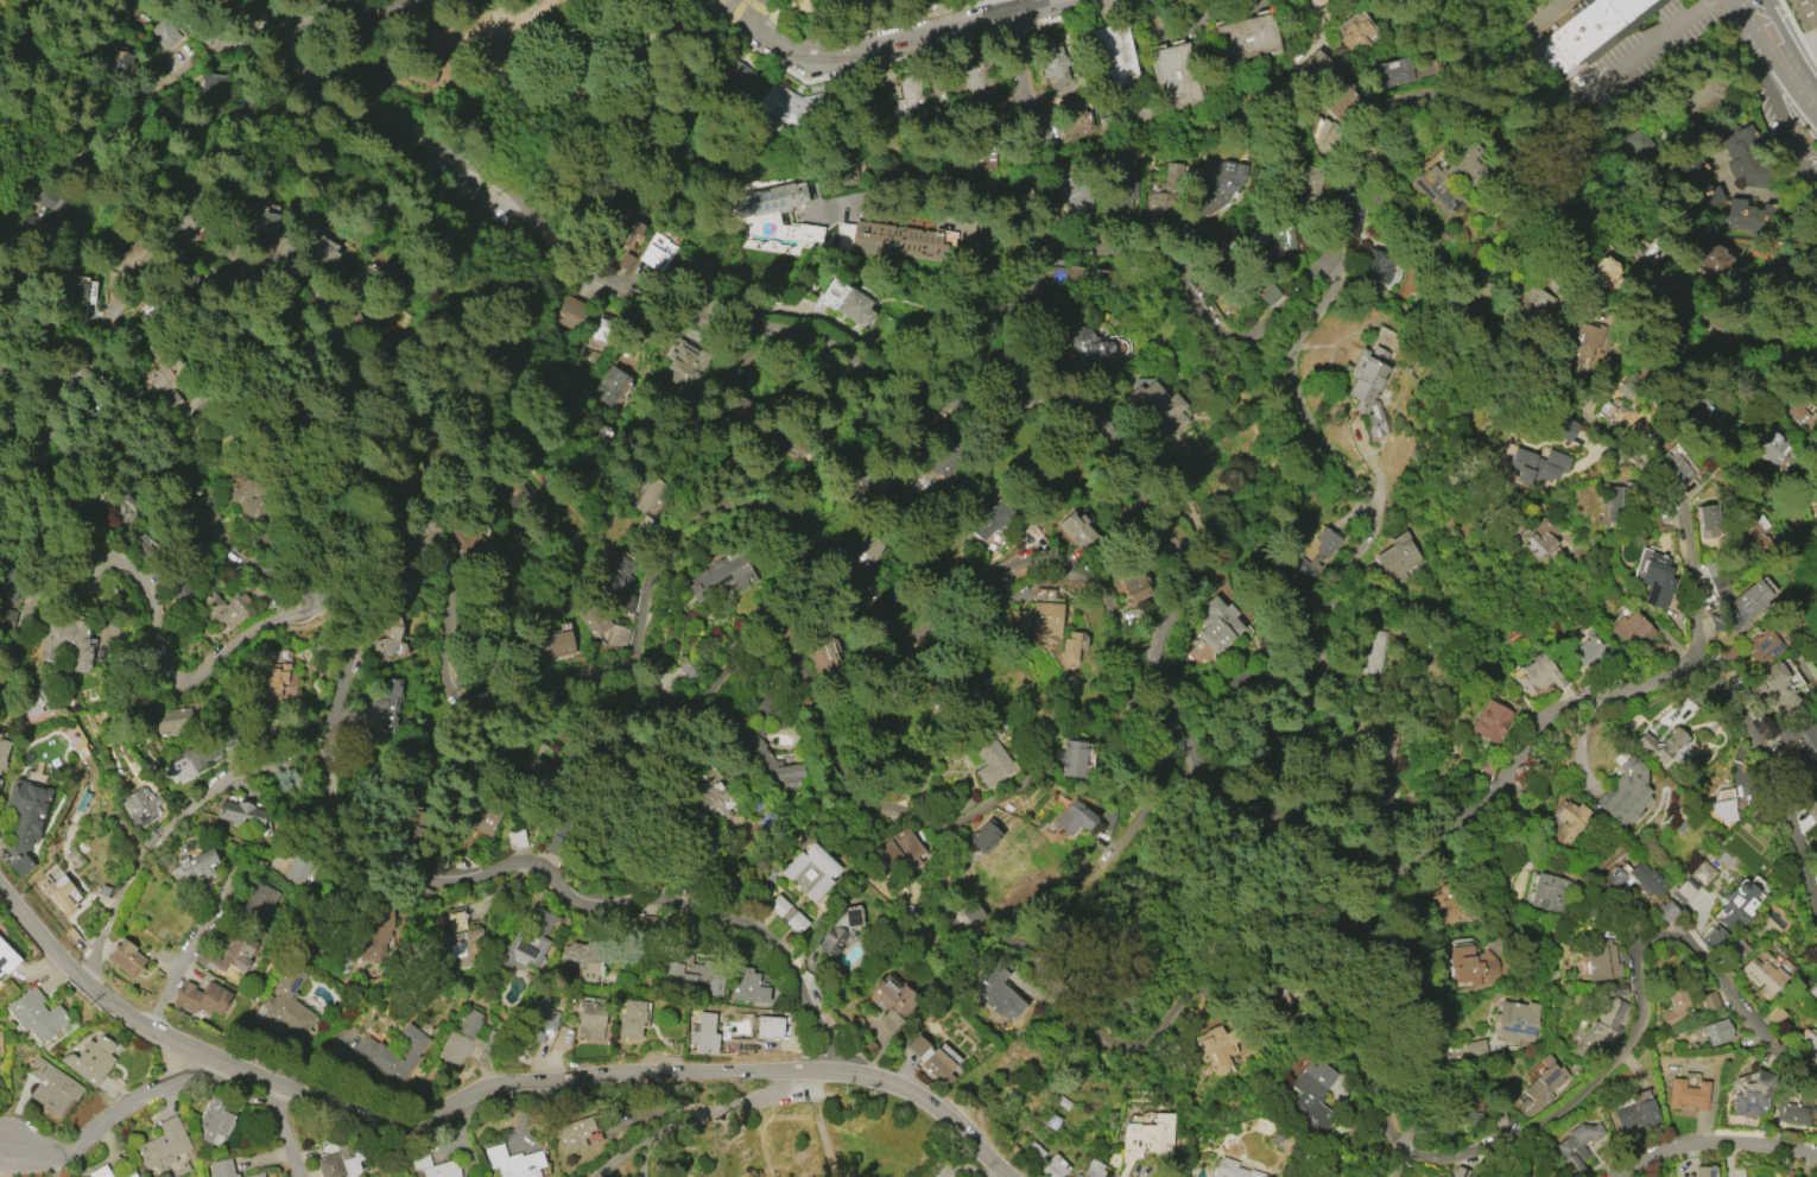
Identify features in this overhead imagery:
road: (1766, 2)
building: (1435, 4)
road: (771, 6)
road: (330, 8)
road: (761, 11)
parking lot: (1508, 12)
building: (1803, 12)
road: (400, 13)
road: (741, 14)
road: (1323, 24)
road: (319, 25)
road: (878, 25)
building: (1591, 26)
road: (1796, 30)
building: (1357, 31)
road: (1536, 32)
building: (163, 33)
road: (291, 34)
building: (1247, 37)
road: (888, 38)
road: (1792, 40)
road: (1635, 46)
building: (1107, 53)
road: (907, 55)
road: (1769, 59)
building: (1053, 64)
building: (1553, 64)
building: (118, 67)
building: (1312, 68)
building: (977, 75)
building: (1394, 75)
road: (1539, 75)
building: (1173, 76)
road: (160, 78)
building: (737, 82)
park: (509, 83)
building: (214, 86)
building: (910, 95)
road: (1761, 101)
building: (1343, 102)
road: (378, 109)
building: (796, 109)
building: (1072, 116)
parking lot: (1785, 116)
road: (1037, 120)
building: (1327, 134)
building: (1635, 143)
building: (1745, 156)
building: (982, 160)
road: (1520, 164)
building: (1449, 176)
building: (1310, 182)
building: (1702, 184)
building: (1217, 188)
building: (1121, 192)
building: (43, 194)
building: (1075, 198)
building: (1161, 204)
road: (938, 213)
building: (1750, 216)
building: (774, 220)
building: (183, 228)
building: (262, 230)
building: (626, 232)
building: (843, 236)
building: (881, 238)
building: (1277, 238)
building: (1228, 239)
building: (936, 241)
building: (324, 251)
building: (658, 254)
road: (245, 259)
building: (1720, 260)
building: (1373, 267)
building: (1329, 268)
building: (1607, 273)
building: (374, 274)
building: (1056, 274)
road: (1182, 279)
building: (72, 289)
building: (1272, 295)
building: (847, 300)
building: (1534, 305)
building: (574, 311)
building: (1672, 346)
building: (1582, 347)
building: (1085, 348)
building: (1287, 360)
building: (685, 362)
building: (618, 385)
building: (156, 390)
building: (1369, 390)
road: (1556, 393)
building: (1158, 407)
building: (1798, 412)
building: (1704, 417)
building: (1563, 429)
building: (1768, 444)
building: (1534, 466)
building: (1672, 468)
building: (240, 491)
building: (518, 495)
building: (656, 499)
building: (82, 501)
road: (1684, 507)
building: (992, 519)
building: (1708, 520)
building: (1750, 521)
building: (1539, 538)
building: (1327, 544)
building: (468, 545)
building: (874, 550)
building: (1399, 557)
building: (1308, 572)
building: (721, 575)
building: (1133, 580)
building: (1655, 580)
building: (616, 581)
building: (1717, 582)
building: (397, 583)
road: (1171, 583)
road: (1336, 583)
building: (1044, 595)
building: (625, 602)
building: (1747, 602)
road: (156, 605)
building: (226, 607)
building: (593, 618)
building: (1040, 619)
building: (1220, 624)
road: (641, 626)
building: (1632, 628)
building: (618, 635)
building: (391, 643)
building: (67, 644)
building: (553, 645)
building: (1587, 646)
building: (1760, 646)
building: (1072, 647)
building: (1372, 653)
building: (824, 659)
building: (1538, 675)
building: (277, 682)
building: (1772, 686)
building: (32, 702)
building: (382, 707)
building: (172, 719)
building: (1490, 721)
building: (0, 734)
building: (1799, 741)
building: (1660, 746)
building: (1387, 748)
building: (4, 753)
building: (989, 758)
building: (1071, 758)
building: (189, 761)
building: (772, 761)
building: (1816, 772)
road: (1772, 776)
building: (1816, 776)
building: (0, 783)
building: (1626, 792)
building: (1387, 797)
building: (711, 804)
building: (1723, 805)
building: (140, 806)
building: (1812, 810)
building: (241, 814)
building: (487, 818)
building: (1074, 818)
building: (25, 821)
road: (1127, 821)
building: (1570, 822)
road: (170, 829)
road: (322, 831)
building: (983, 835)
building: (895, 853)
building: (194, 866)
building: (298, 866)
building: (825, 873)
building: (1702, 873)
building: (1613, 879)
building: (1646, 880)
building: (56, 891)
building: (1683, 891)
building: (1550, 892)
building: (414, 898)
building: (257, 900)
building: (778, 905)
building: (1734, 905)
building: (1452, 907)
building: (1664, 911)
building: (796, 923)
building: (1355, 926)
building: (840, 929)
park: (1259, 929)
building: (376, 935)
building: (1711, 937)
building: (462, 941)
road: (970, 943)
building: (528, 945)
road: (189, 948)
building: (1736, 950)
building: (127, 954)
building: (227, 955)
building: (6, 957)
road: (1090, 957)
building: (1600, 957)
building: (582, 960)
building: (1474, 967)
building: (690, 974)
building: (1761, 976)
building: (990, 985)
building: (748, 987)
building: (1813, 991)
road: (1634, 996)
building: (201, 999)
building: (892, 1001)
building: (1709, 1001)
building: (281, 1008)
building: (1673, 1008)
building: (36, 1014)
building: (1773, 1014)
building: (632, 1018)
road: (1429, 1020)
building: (1608, 1020)
building: (589, 1021)
building: (1515, 1021)
building: (543, 1023)
building: (470, 1024)
building: (768, 1027)
building: (1716, 1031)
building: (703, 1033)
building: (0, 1036)
building: (1582, 1042)
building: (1807, 1046)
building: (1217, 1048)
building: (1476, 1050)
building: (392, 1053)
building: (89, 1059)
building: (931, 1061)
building: (51, 1086)
building: (1540, 1087)
road: (483, 1088)
building: (1312, 1095)
building: (1686, 1095)
building: (1752, 1096)
building: (1796, 1110)
road: (113, 1114)
building: (1636, 1114)
building: (215, 1118)
road: (689, 1121)
road: (284, 1131)
building: (572, 1133)
road: (761, 1133)
building: (1147, 1139)
road: (1711, 1141)
building: (162, 1145)
building: (1579, 1145)
road: (6, 1152)
building: (1033, 1152)
building: (338, 1160)
building: (513, 1162)
building: (1055, 1166)
building: (222, 1167)
building: (443, 1169)
building: (1094, 1169)
building: (1703, 1171)
building: (100, 1172)
building: (1237, 1172)
building: (1460, 1172)
building: (131, 1175)
building: (254, 1175)
building: (1442, 1176)

